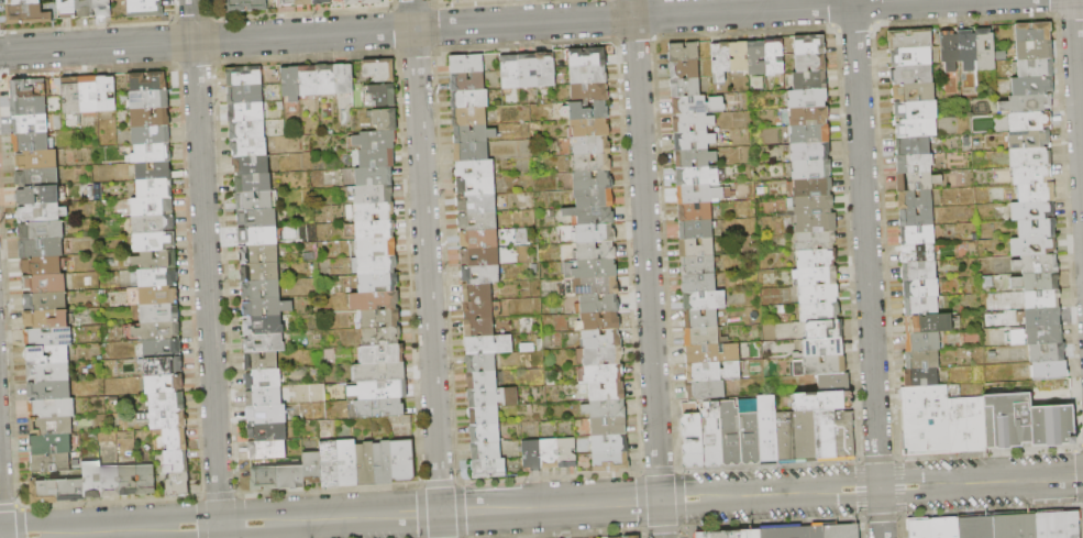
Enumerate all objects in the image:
building: (449, 0)
building: (22, 2)
building: (285, 2)
building: (303, 2)
building: (321, 2)
building: (372, 2)
building: (244, 6)
building: (85, 8)
building: (102, 8)
building: (145, 8)
building: (67, 9)
building: (26, 15)
road: (465, 25)
building: (1031, 30)
building: (906, 36)
building: (810, 45)
building: (1030, 47)
building: (984, 48)
building: (964, 50)
building: (947, 51)
building: (684, 52)
building: (907, 54)
building: (739, 56)
building: (587, 57)
building: (774, 57)
building: (756, 58)
building: (721, 61)
building: (811, 63)
building: (467, 64)
building: (1031, 65)
building: (379, 69)
building: (684, 69)
building: (528, 70)
building: (545, 70)
building: (908, 72)
building: (511, 73)
building: (588, 75)
building: (244, 77)
building: (343, 79)
building: (308, 80)
building: (325, 80)
building: (810, 80)
building: (467, 81)
building: (148, 83)
building: (1027, 83)
building: (291, 84)
building: (685, 87)
building: (30, 88)
building: (909, 88)
building: (589, 92)
building: (89, 94)
building: (107, 94)
building: (245, 95)
building: (70, 96)
building: (379, 96)
road: (1078, 96)
building: (148, 99)
building: (469, 99)
building: (808, 99)
building: (1023, 101)
building: (697, 105)
building: (910, 106)
building: (29, 107)
building: (585, 111)
building: (246, 112)
building: (809, 116)
building: (468, 117)
building: (150, 118)
building: (1026, 119)
building: (385, 120)
building: (692, 123)
building: (31, 124)
building: (911, 124)
building: (589, 128)
building: (246, 131)
building: (473, 134)
building: (810, 134)
building: (151, 135)
building: (1026, 135)
building: (375, 141)
building: (694, 141)
building: (31, 142)
building: (908, 143)
building: (590, 145)
building: (248, 147)
building: (471, 152)
building: (810, 152)
building: (1025, 153)
building: (151, 154)
building: (694, 157)
building: (376, 158)
building: (35, 160)
building: (909, 160)
building: (592, 163)
building: (251, 165)
building: (475, 168)
building: (811, 169)
building: (1026, 171)
building: (153, 172)
building: (374, 176)
building: (696, 176)
building: (37, 177)
building: (910, 177)
building: (592, 180)
building: (253, 183)
building: (476, 186)
building: (813, 187)
building: (154, 188)
building: (1032, 188)
building: (698, 194)
building: (374, 195)
building: (37, 196)
building: (911, 196)
building: (594, 197)
building: (254, 200)
building: (476, 204)
building: (811, 205)
building: (152, 207)
building: (1029, 207)
building: (41, 212)
building: (374, 212)
building: (694, 212)
building: (592, 215)
building: (913, 215)
building: (257, 218)
building: (477, 221)
building: (816, 223)
building: (152, 224)
building: (1034, 224)
building: (375, 230)
building: (696, 230)
building: (41, 231)
building: (595, 233)
building: (913, 233)
building: (257, 235)
building: (478, 239)
building: (816, 241)
building: (154, 242)
building: (1031, 242)
building: (377, 248)
building: (696, 248)
building: (41, 249)
building: (915, 251)
building: (596, 252)
building: (258, 254)
road: (426, 256)
building: (479, 256)
building: (817, 259)
building: (155, 260)
building: (1032, 260)
building: (377, 265)
building: (697, 265)
building: (41, 266)
road: (206, 268)
building: (597, 268)
road: (647, 268)
road: (866, 268)
building: (916, 268)
building: (259, 273)
building: (480, 274)
building: (157, 276)
building: (815, 277)
building: (1034, 277)
building: (44, 283)
building: (378, 283)
building: (698, 283)
building: (598, 285)
building: (916, 287)
building: (261, 290)
building: (477, 292)
building: (158, 294)
building: (819, 294)
building: (1038, 296)
building: (374, 300)
building: (704, 300)
building: (45, 301)
building: (599, 304)
building: (917, 304)
building: (262, 308)
building: (477, 309)
building: (820, 311)
building: (159, 312)
building: (1039, 314)
building: (379, 318)
building: (700, 318)
building: (45, 320)
building: (600, 320)
building: (924, 320)
building: (263, 326)
building: (478, 327)
building: (825, 329)
building: (157, 331)
building: (1041, 331)
building: (380, 336)
building: (48, 337)
building: (701, 337)
building: (601, 339)
building: (920, 340)
building: (263, 342)
building: (489, 344)
building: (821, 348)
building: (163, 349)
building: (1042, 349)
building: (383, 353)
building: (712, 353)
building: (47, 355)
building: (603, 356)
building: (920, 358)
building: (261, 361)
building: (480, 363)
building: (164, 366)
building: (819, 366)
building: (1043, 367)
building: (712, 371)
building: (48, 372)
building: (379, 372)
building: (604, 373)
building: (921, 375)
building: (263, 378)
building: (482, 381)
building: (833, 383)
building: (164, 384)
building: (49, 389)
building: (379, 389)
building: (705, 389)
building: (607, 392)
building: (264, 397)
building: (493, 397)
building: (167, 402)
building: (822, 402)
building: (52, 408)
building: (379, 408)
building: (689, 408)
building: (605, 409)
building: (266, 413)
building: (484, 415)
building: (164, 419)
building: (911, 419)
building: (935, 419)
building: (1024, 420)
building: (973, 422)
building: (955, 424)
building: (52, 426)
building: (608, 426)
building: (767, 430)
building: (268, 431)
building: (485, 432)
building: (730, 433)
building: (711, 435)
building: (826, 436)
building: (796, 437)
building: (846, 437)
building: (750, 439)
building: (175, 440)
building: (692, 441)
building: (51, 444)
building: (609, 444)
building: (267, 450)
building: (486, 450)
building: (549, 453)
building: (566, 453)
building: (531, 454)
building: (402, 461)
building: (175, 462)
building: (610, 462)
building: (51, 463)
building: (329, 463)
building: (347, 463)
building: (383, 463)
building: (365, 464)
building: (73, 466)
building: (312, 468)
building: (489, 468)
building: (290, 476)
building: (264, 479)
building: (145, 480)
building: (91, 481)
building: (128, 481)
building: (110, 482)
building: (177, 485)
building: (56, 491)
road: (761, 495)
road: (220, 524)
building: (1060, 525)
road: (440, 526)
building: (1016, 526)
building: (976, 527)
road: (0, 528)
building: (919, 528)
building: (944, 528)
building: (840, 529)
building: (792, 530)
building: (730, 531)
park: (0, 532)
building: (629, 537)

